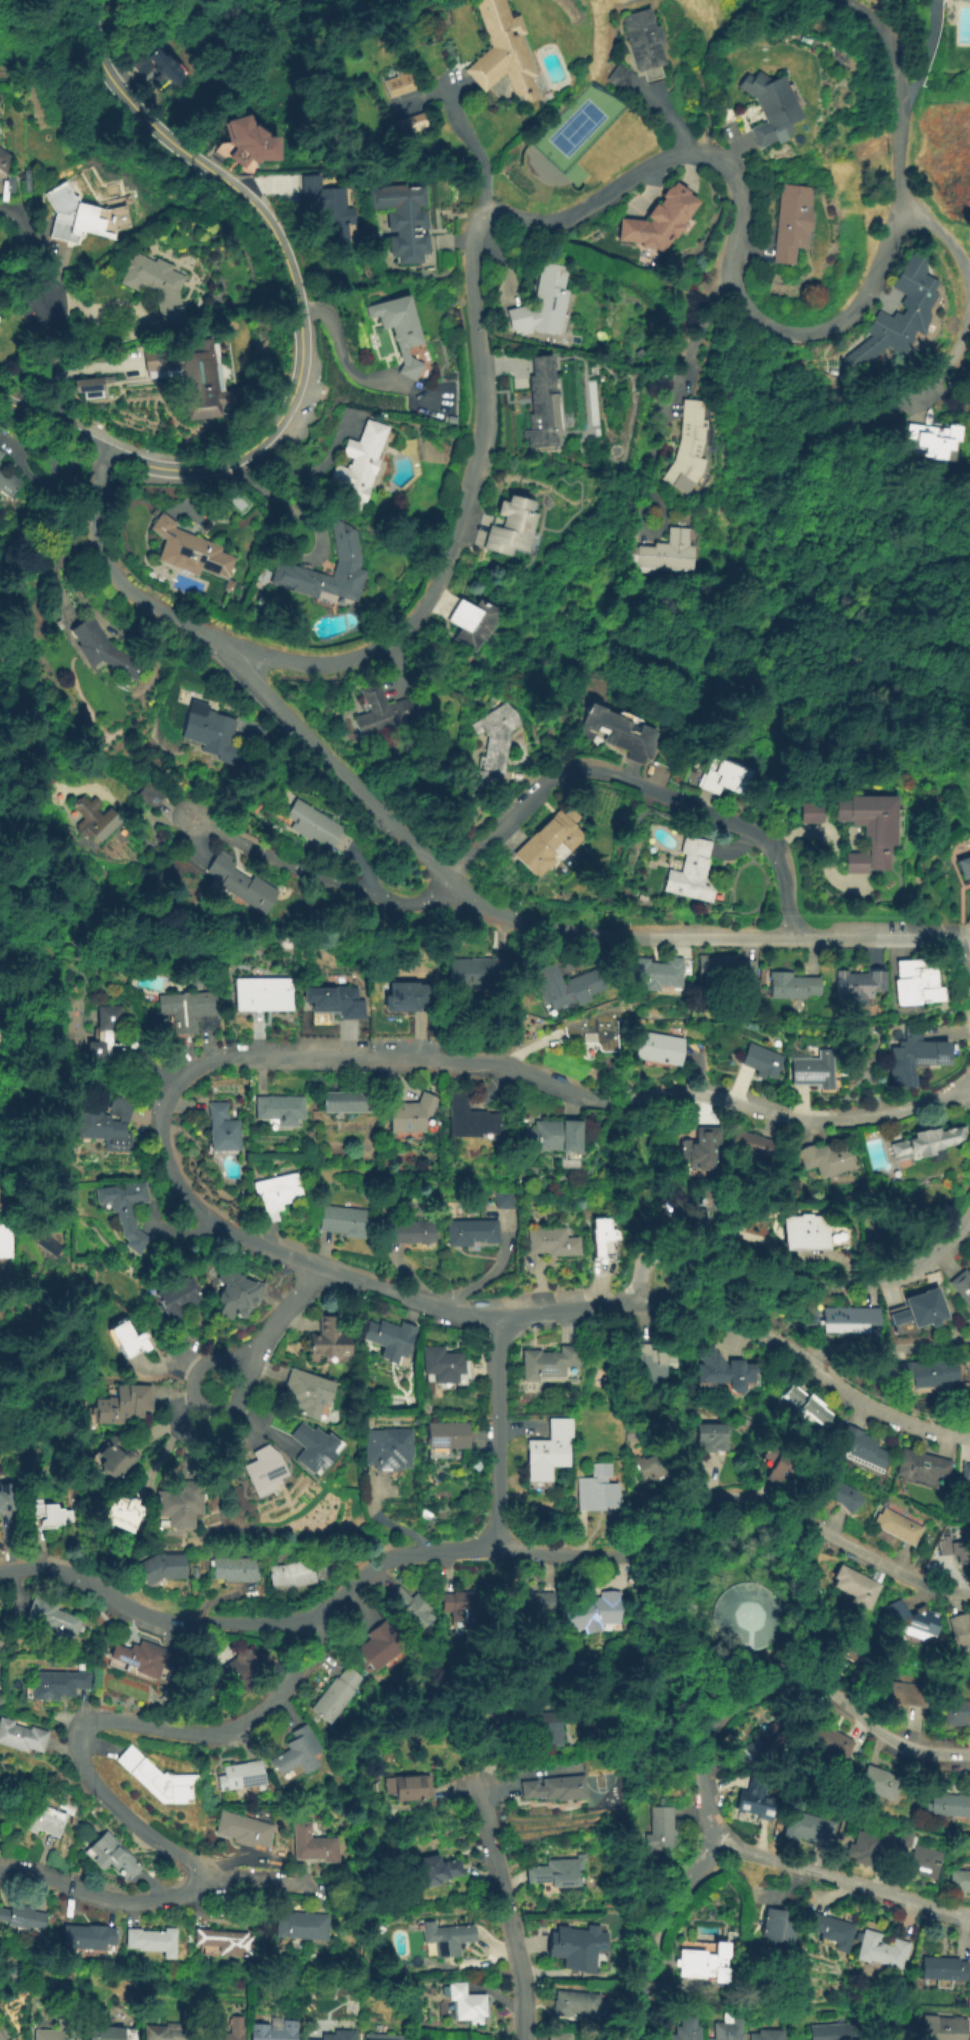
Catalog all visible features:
building: (964, 1)
road: (98, 3)
building: (646, 44)
building: (505, 55)
road: (926, 60)
building: (162, 68)
building: (620, 77)
building: (398, 86)
road: (899, 87)
building: (775, 109)
road: (673, 124)
building: (412, 126)
park: (576, 126)
building: (248, 140)
road: (474, 151)
building: (4, 161)
building: (27, 179)
building: (330, 209)
road: (499, 211)
building: (83, 217)
building: (404, 221)
building: (662, 222)
building: (796, 223)
road: (752, 243)
road: (289, 268)
road: (964, 271)
building: (2, 275)
building: (156, 286)
road: (876, 300)
road: (49, 301)
building: (544, 305)
building: (911, 313)
building: (399, 330)
road: (348, 372)
building: (187, 373)
building: (89, 385)
road: (924, 391)
road: (947, 393)
building: (546, 409)
road: (56, 425)
road: (662, 430)
building: (926, 441)
building: (693, 451)
building: (0, 452)
building: (0, 458)
building: (363, 465)
building: (8, 482)
road: (278, 503)
building: (518, 530)
building: (345, 541)
building: (191, 553)
building: (671, 554)
road: (772, 581)
road: (119, 583)
building: (479, 625)
building: (104, 651)
building: (384, 714)
building: (612, 732)
building: (211, 733)
building: (497, 738)
building: (713, 777)
road: (81, 781)
road: (126, 790)
building: (151, 795)
road: (519, 811)
building: (802, 811)
building: (95, 821)
building: (317, 828)
building: (859, 830)
road: (822, 838)
building: (542, 842)
building: (961, 870)
building: (685, 872)
building: (242, 885)
road: (544, 927)
road: (965, 970)
building: (461, 973)
building: (649, 973)
building: (720, 973)
building: (908, 985)
building: (557, 986)
building: (785, 986)
building: (301, 987)
building: (848, 987)
building: (265, 996)
building: (397, 996)
building: (334, 1001)
building: (187, 1010)
building: (592, 1032)
building: (111, 1037)
building: (653, 1049)
building: (908, 1055)
building: (754, 1061)
building: (805, 1071)
building: (347, 1102)
building: (281, 1109)
building: (410, 1114)
building: (464, 1120)
building: (107, 1125)
building: (223, 1128)
building: (541, 1138)
building: (923, 1145)
building: (742, 1146)
building: (693, 1148)
road: (165, 1155)
building: (815, 1160)
building: (279, 1193)
building: (500, 1200)
building: (126, 1212)
building: (683, 1212)
building: (344, 1221)
building: (808, 1231)
building: (407, 1232)
building: (465, 1234)
building: (5, 1242)
building: (592, 1242)
building: (544, 1244)
road: (485, 1272)
road: (794, 1282)
building: (959, 1290)
building: (236, 1294)
building: (178, 1297)
building: (90, 1299)
building: (907, 1311)
building: (830, 1320)
road: (268, 1331)
building: (331, 1339)
building: (392, 1339)
building: (128, 1340)
road: (889, 1350)
road: (969, 1352)
road: (890, 1354)
building: (551, 1362)
building: (646, 1364)
building: (444, 1365)
building: (716, 1374)
building: (910, 1374)
road: (193, 1379)
building: (963, 1383)
building: (310, 1394)
building: (121, 1406)
building: (795, 1407)
road: (167, 1422)
road: (500, 1434)
building: (708, 1437)
building: (447, 1438)
road: (168, 1443)
building: (389, 1448)
building: (316, 1449)
building: (551, 1450)
building: (850, 1450)
building: (113, 1459)
building: (912, 1467)
building: (656, 1468)
building: (261, 1470)
building: (770, 1473)
building: (962, 1476)
building: (599, 1489)
building: (836, 1495)
building: (8, 1498)
building: (181, 1503)
building: (125, 1512)
building: (49, 1515)
building: (893, 1527)
building: (950, 1549)
road: (396, 1559)
building: (162, 1567)
building: (236, 1569)
building: (298, 1572)
building: (848, 1584)
building: (464, 1602)
building: (526, 1606)
building: (414, 1607)
building: (600, 1612)
road: (154, 1615)
building: (751, 1617)
water tower: (752, 1617)
building: (905, 1619)
building: (51, 1620)
building: (955, 1631)
building: (0, 1639)
building: (1, 1643)
building: (381, 1645)
building: (140, 1659)
building: (839, 1662)
building: (242, 1674)
road: (784, 1676)
building: (57, 1683)
building: (336, 1694)
building: (906, 1697)
building: (953, 1712)
building: (529, 1728)
building: (21, 1736)
building: (755, 1737)
building: (823, 1741)
building: (298, 1754)
building: (57, 1774)
building: (242, 1777)
building: (157, 1780)
building: (873, 1783)
building: (409, 1788)
building: (552, 1789)
park: (599, 1790)
building: (750, 1805)
building: (946, 1805)
building: (43, 1820)
building: (804, 1827)
building: (654, 1828)
building: (243, 1829)
building: (903, 1837)
building: (312, 1843)
building: (865, 1846)
building: (111, 1856)
road: (37, 1857)
road: (235, 1862)
building: (920, 1862)
building: (438, 1871)
building: (554, 1871)
road: (840, 1879)
building: (959, 1881)
road: (251, 1883)
road: (101, 1896)
road: (506, 1910)
building: (22, 1919)
building: (773, 1926)
building: (302, 1927)
building: (826, 1931)
road: (645, 1932)
building: (88, 1939)
building: (447, 1939)
building: (151, 1941)
building: (570, 1941)
building: (221, 1943)
building: (876, 1949)
building: (695, 1963)
building: (938, 1968)
building: (11, 1969)
building: (368, 1969)
building: (68, 1972)
building: (572, 2005)
building: (467, 2006)
building: (830, 2013)
building: (681, 2027)
building: (941, 2027)
building: (724, 2031)
building: (825, 2031)
building: (161, 2032)
building: (273, 2032)
building: (105, 2033)
building: (551, 2034)
building: (761, 2034)
building: (54, 2035)
building: (225, 2036)
building: (340, 2036)
building: (1, 2037)
building: (385, 2037)

